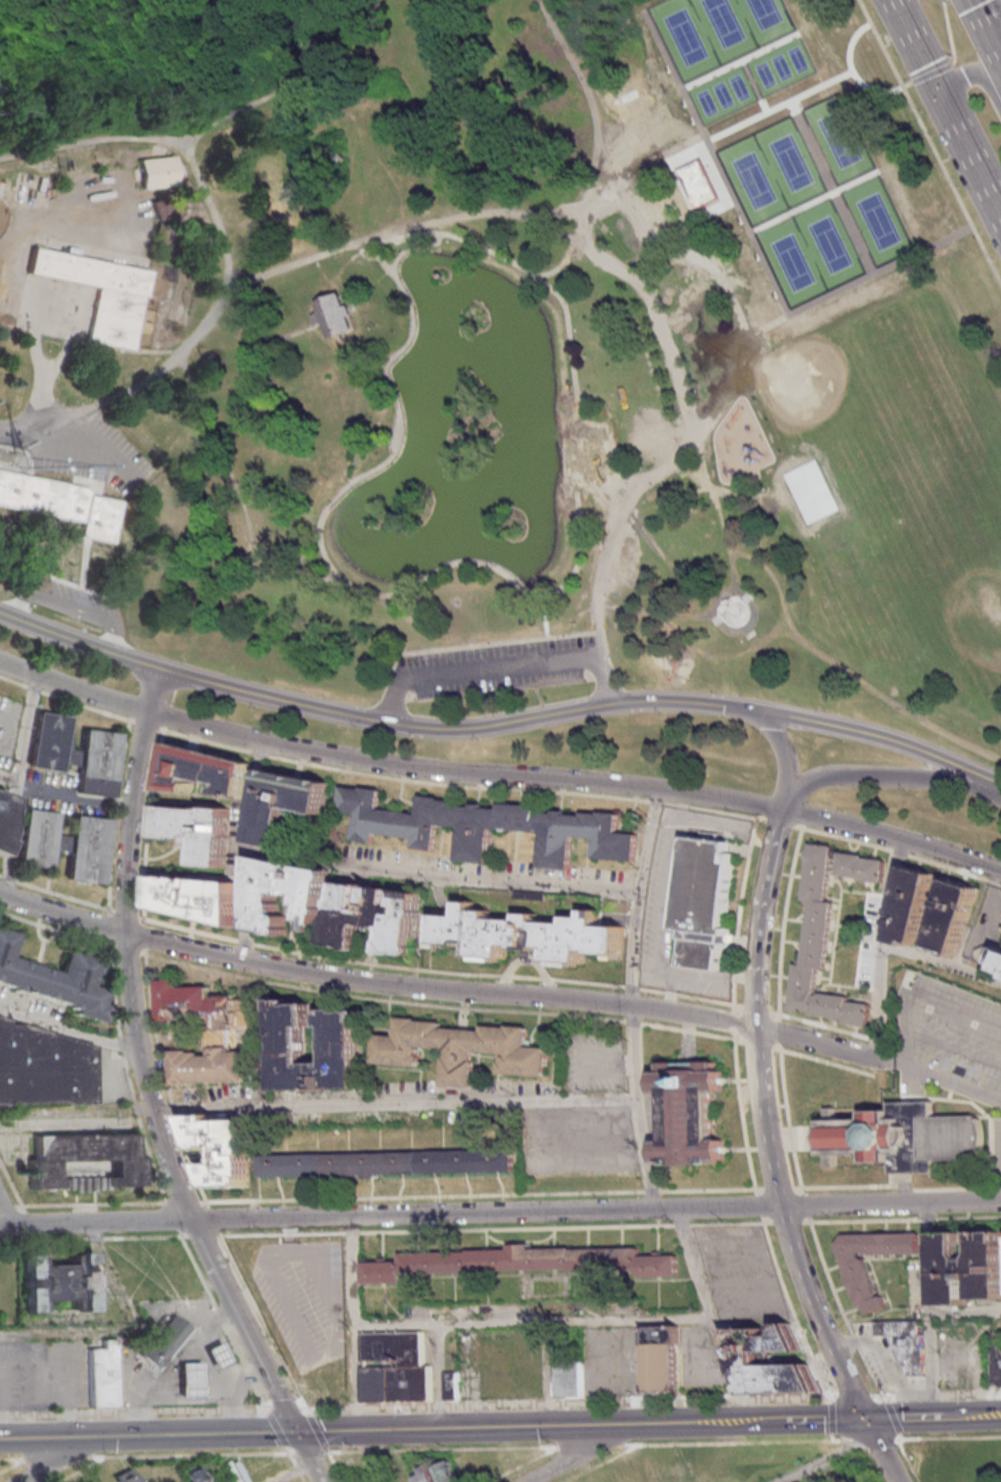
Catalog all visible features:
park: (763, 12)
park: (722, 21)
road: (986, 30)
road: (947, 31)
park: (684, 35)
road: (887, 42)
park: (797, 58)
road: (740, 60)
park: (780, 66)
road: (851, 71)
park: (764, 73)
road: (930, 73)
road: (978, 77)
road: (905, 84)
road: (753, 85)
park: (738, 86)
traffic signals: (937, 89)
park: (722, 94)
building: (619, 95)
park: (705, 102)
road: (946, 109)
road: (627, 120)
road: (207, 127)
park: (838, 138)
road: (929, 143)
road: (597, 149)
road: (686, 149)
road: (717, 161)
park: (789, 161)
building: (155, 174)
park: (753, 180)
building: (285, 183)
building: (697, 185)
road: (831, 186)
road: (814, 200)
road: (714, 207)
park: (877, 220)
road: (636, 221)
park: (828, 243)
road: (707, 246)
road: (360, 247)
road: (411, 248)
road: (678, 248)
road: (360, 252)
park: (791, 260)
road: (550, 271)
road: (627, 275)
lighthouse: (439, 277)
building: (100, 292)
road: (807, 305)
building: (330, 317)
road: (192, 340)
road: (343, 340)
road: (62, 357)
road: (38, 369)
park: (507, 389)
park: (865, 405)
road: (588, 426)
road: (605, 438)
road: (391, 443)
parking lot: (83, 448)
road: (220, 454)
road: (344, 474)
road: (582, 480)
road: (604, 484)
building: (60, 503)
road: (304, 550)
road: (732, 570)
road: (513, 582)
road: (82, 588)
road: (695, 589)
road: (80, 590)
road: (71, 606)
road: (661, 611)
road: (542, 615)
road: (712, 616)
road: (677, 617)
road: (743, 627)
road: (745, 630)
road: (774, 630)
road: (797, 635)
road: (498, 642)
road: (499, 665)
parking lot: (497, 667)
road: (65, 698)
road: (718, 700)
road: (308, 706)
road: (498, 712)
road: (818, 723)
road: (143, 724)
road: (23, 728)
parking lot: (8, 730)
road: (500, 731)
building: (46, 744)
road: (781, 747)
building: (68, 749)
building: (95, 765)
building: (201, 774)
road: (498, 775)
road: (399, 778)
road: (874, 778)
road: (7, 779)
road: (655, 801)
building: (282, 804)
building: (1, 809)
road: (709, 810)
road: (113, 816)
road: (777, 822)
road: (144, 827)
building: (485, 828)
building: (194, 835)
road: (9, 838)
building: (34, 841)
building: (57, 846)
road: (240, 850)
building: (85, 852)
road: (900, 852)
road: (485, 877)
road: (889, 892)
road: (636, 897)
building: (195, 900)
building: (704, 900)
building: (260, 901)
building: (909, 905)
road: (737, 910)
building: (949, 915)
road: (759, 918)
building: (374, 919)
parking lot: (985, 922)
road: (781, 923)
road: (108, 926)
road: (56, 931)
building: (528, 934)
building: (825, 935)
road: (143, 937)
road: (886, 946)
road: (127, 951)
building: (988, 956)
road: (361, 961)
building: (55, 981)
road: (372, 982)
road: (913, 988)
road: (438, 1007)
road: (754, 1008)
road: (732, 1020)
road: (822, 1026)
parking lot: (947, 1026)
road: (68, 1027)
building: (205, 1032)
road: (777, 1032)
road: (754, 1044)
road: (825, 1045)
road: (952, 1047)
building: (287, 1049)
building: (457, 1051)
road: (632, 1052)
road: (140, 1059)
road: (821, 1060)
parking lot: (592, 1063)
building: (43, 1068)
road: (125, 1074)
road: (163, 1082)
road: (948, 1083)
road: (372, 1102)
building: (688, 1115)
road: (740, 1115)
road: (761, 1116)
road: (786, 1118)
building: (862, 1135)
building: (933, 1136)
parking lot: (577, 1143)
building: (221, 1150)
building: (84, 1160)
building: (386, 1165)
road: (10, 1184)
road: (851, 1186)
road: (775, 1189)
road: (956, 1189)
road: (477, 1196)
road: (178, 1203)
road: (891, 1203)
road: (89, 1205)
road: (756, 1205)
road: (802, 1205)
road: (8, 1206)
road: (5, 1213)
road: (390, 1214)
road: (169, 1217)
road: (900, 1219)
road: (210, 1222)
road: (780, 1222)
road: (489, 1229)
road: (199, 1236)
road: (90, 1239)
building: (515, 1261)
building: (967, 1268)
parking lot: (739, 1273)
building: (858, 1274)
building: (57, 1281)
parking lot: (304, 1299)
road: (791, 1307)
road: (837, 1307)
road: (928, 1309)
road: (965, 1310)
road: (815, 1313)
road: (710, 1314)
road: (226, 1319)
road: (533, 1320)
road: (261, 1322)
road: (354, 1323)
road: (135, 1334)
building: (169, 1341)
building: (904, 1343)
road: (33, 1347)
building: (219, 1354)
building: (659, 1358)
building: (745, 1361)
building: (995, 1365)
building: (398, 1368)
building: (326, 1372)
building: (107, 1375)
road: (438, 1376)
building: (193, 1379)
building: (572, 1379)
building: (455, 1385)
road: (935, 1392)
road: (854, 1394)
road: (572, 1402)
road: (288, 1410)
road: (135, 1413)
road: (966, 1415)
road: (897, 1418)
road: (803, 1419)
traffic signals: (863, 1419)
road: (693, 1423)
road: (376, 1430)
traffic signals: (296, 1432)
road: (948, 1436)
road: (91, 1437)
road: (874, 1437)
road: (36, 1438)
road: (737, 1441)
road: (589, 1444)
road: (304, 1449)
road: (442, 1449)
road: (879, 1450)
road: (306, 1451)
road: (584, 1452)
road: (190, 1454)
road: (59, 1457)
road: (14, 1458)
road: (64, 1459)
road: (829, 1459)
road: (14, 1465)
road: (85, 1469)
building: (191, 1473)
building: (432, 1473)
road: (296, 1474)
road: (316, 1474)
building: (124, 1476)
building: (91, 1481)

